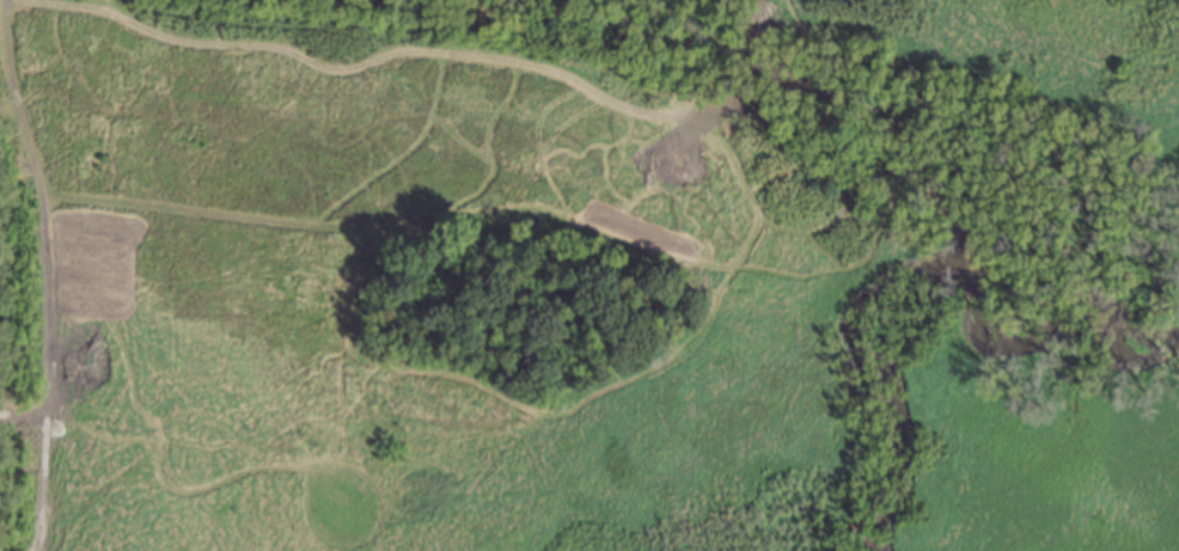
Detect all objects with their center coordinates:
river: (839, 117)
river: (1068, 316)
river: (849, 390)

